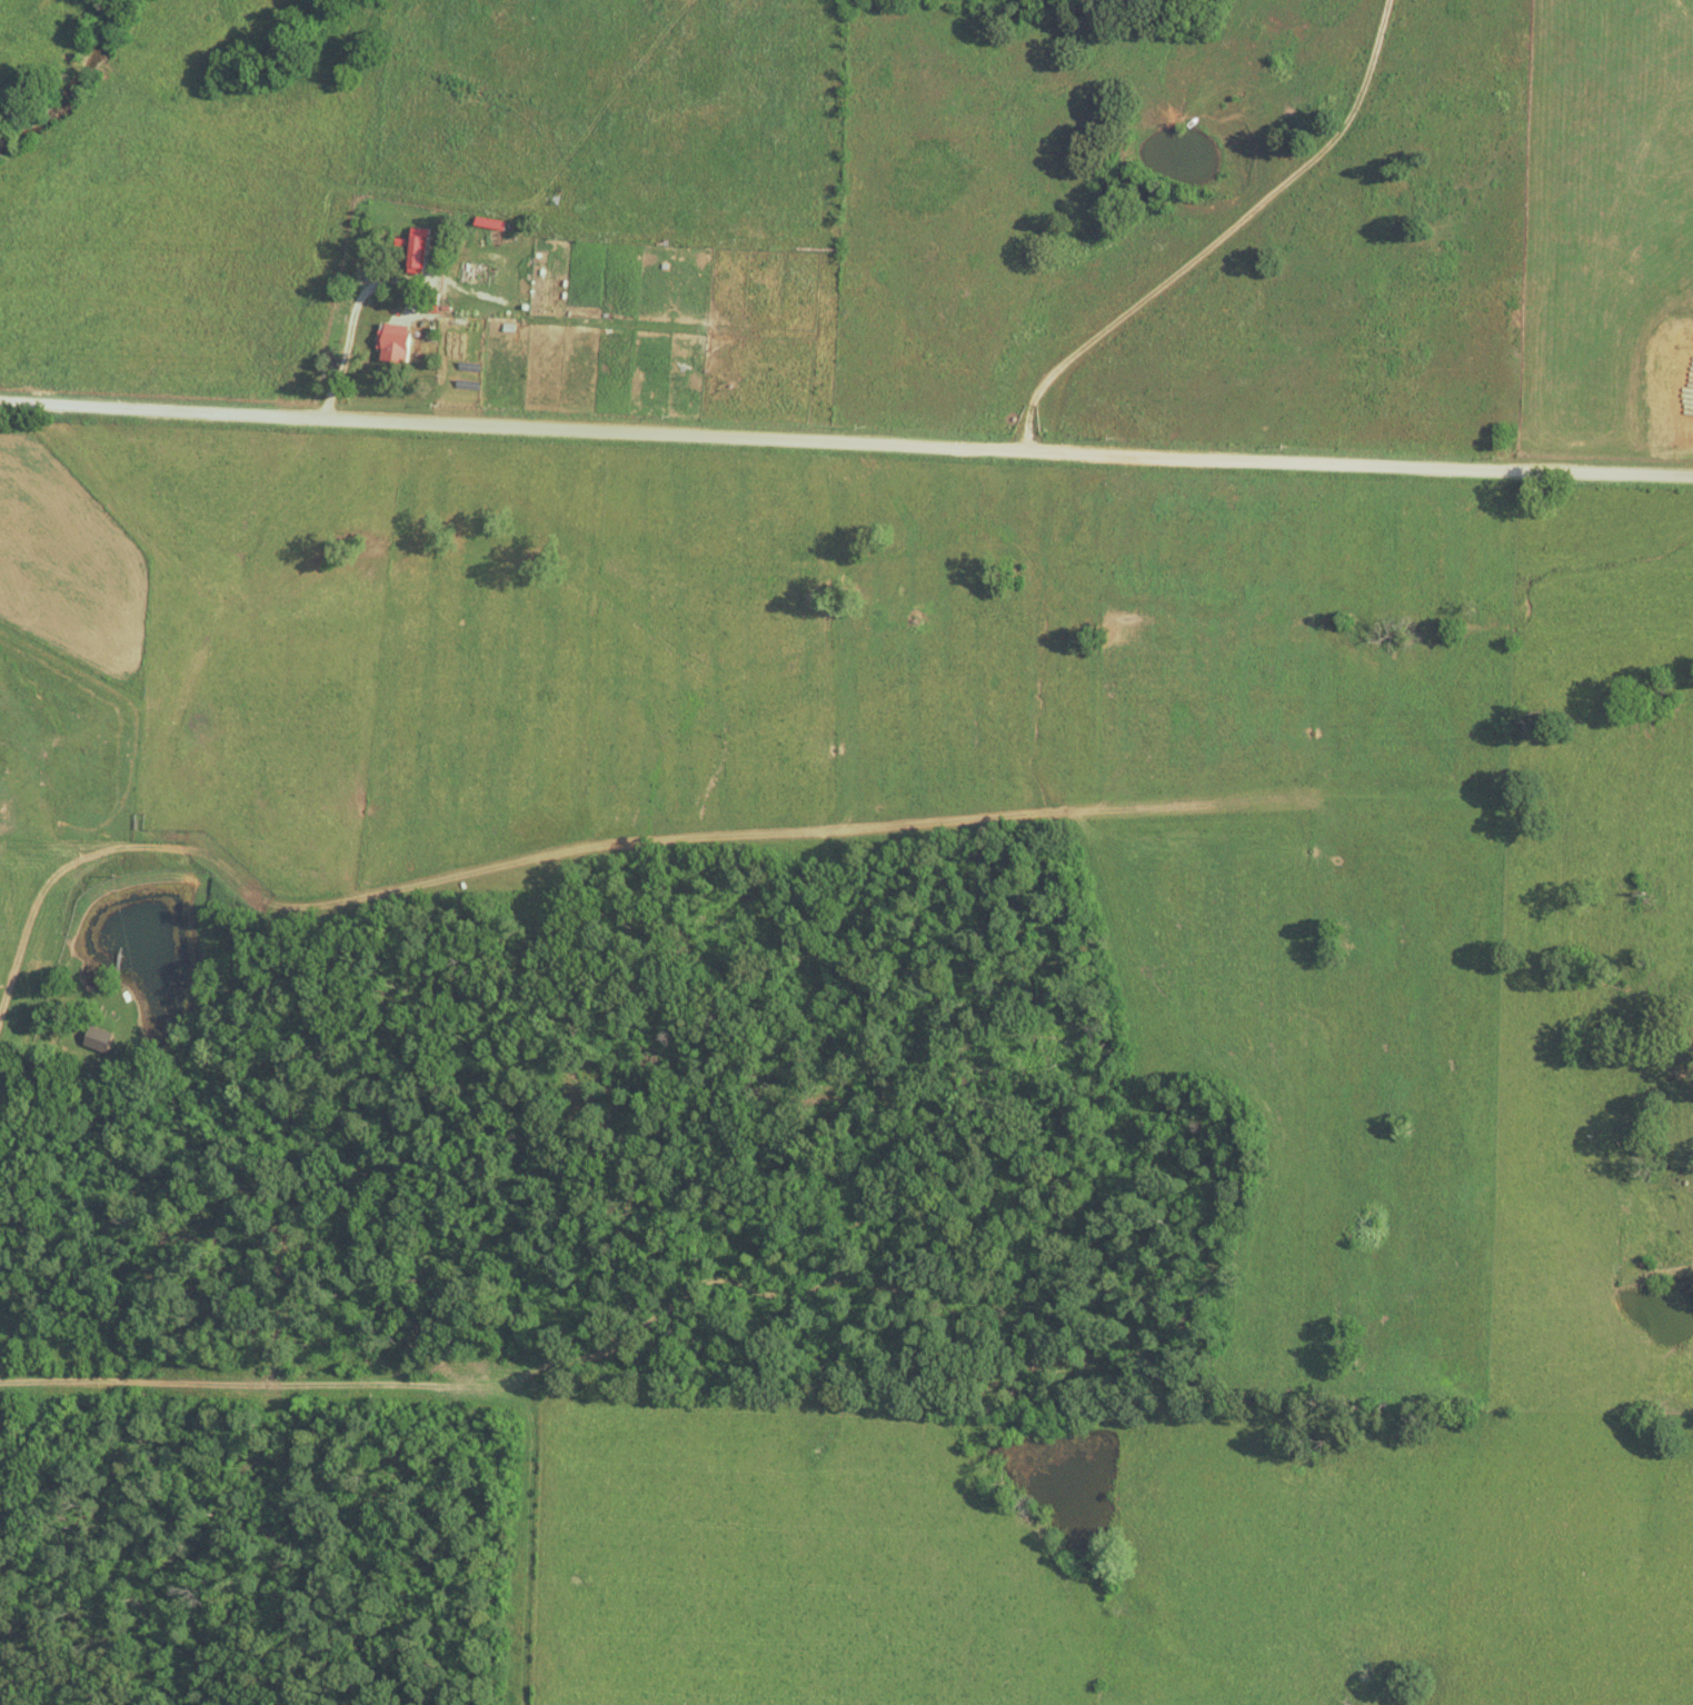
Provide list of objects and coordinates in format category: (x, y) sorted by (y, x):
road: (62, 104)
road: (1223, 240)
building: (419, 250)
building: (479, 271)
building: (394, 340)
road: (348, 343)
road: (846, 443)
building: (202, 756)
road: (432, 1382)

